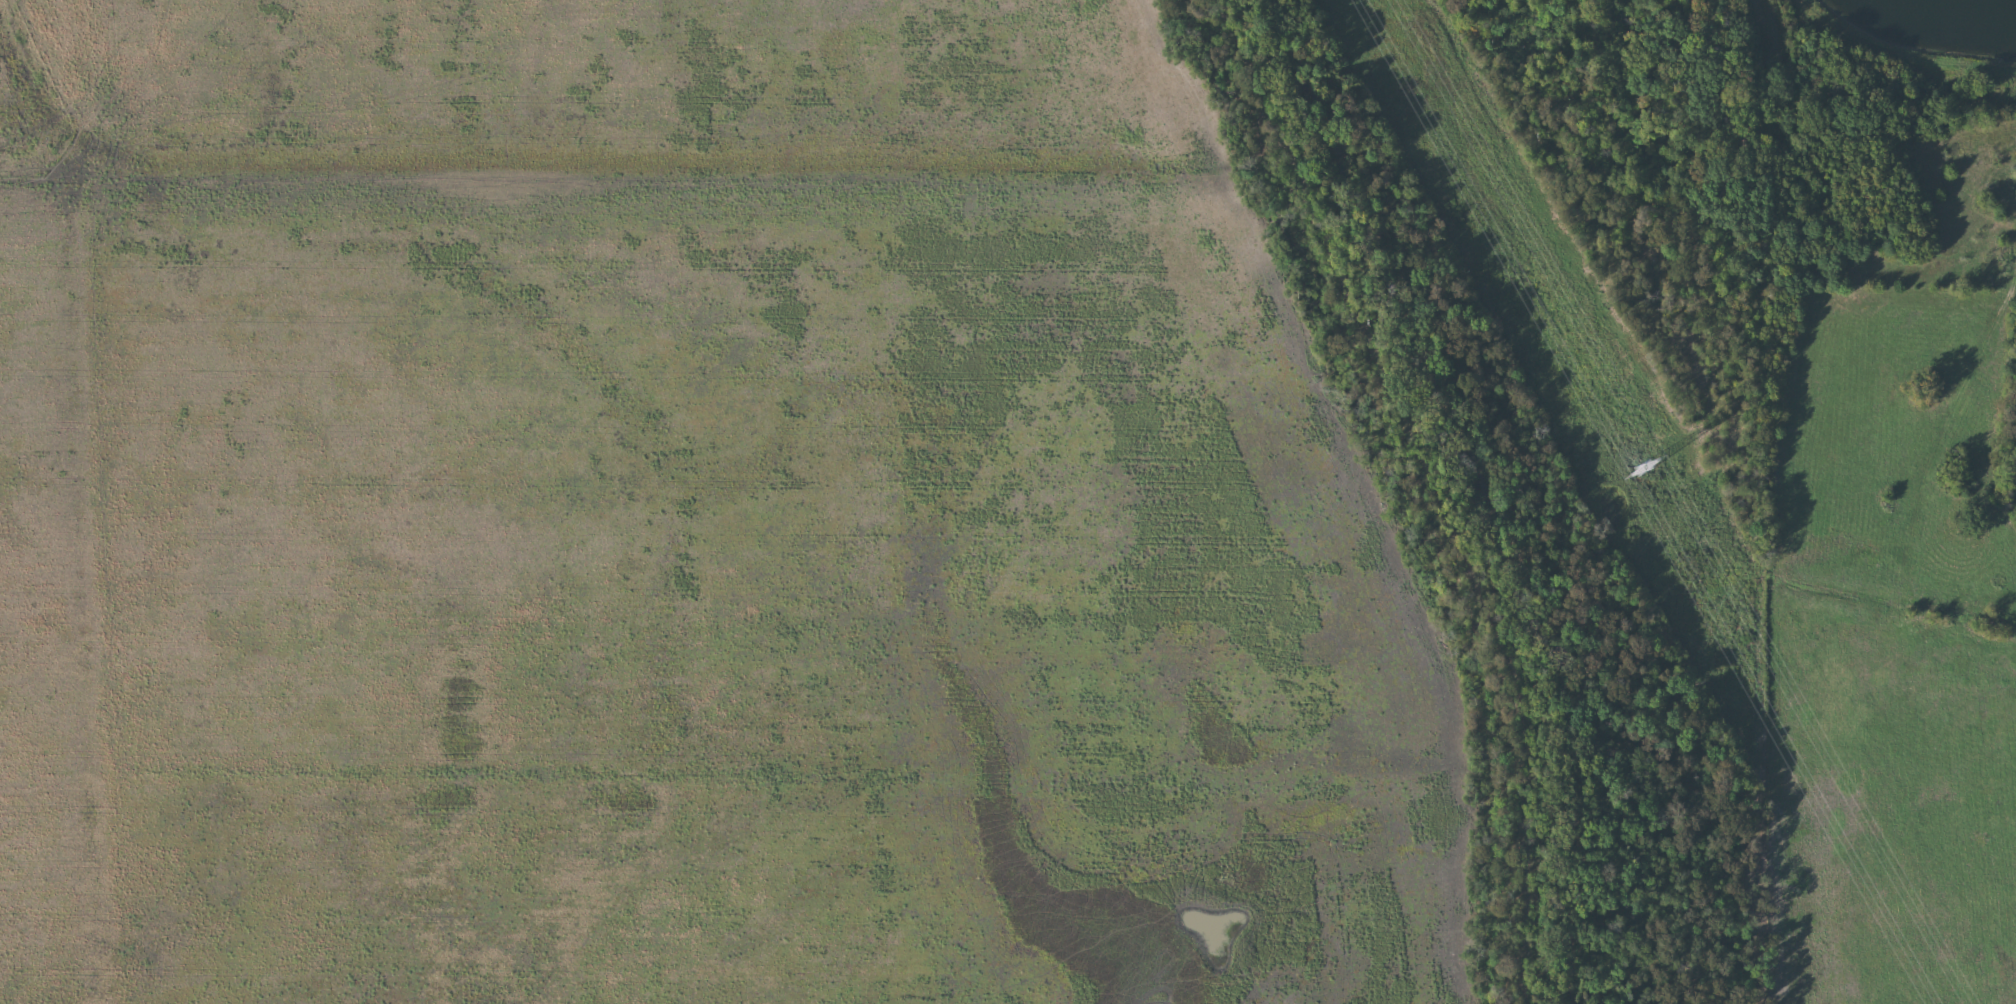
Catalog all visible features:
power tower: (1651, 469)

